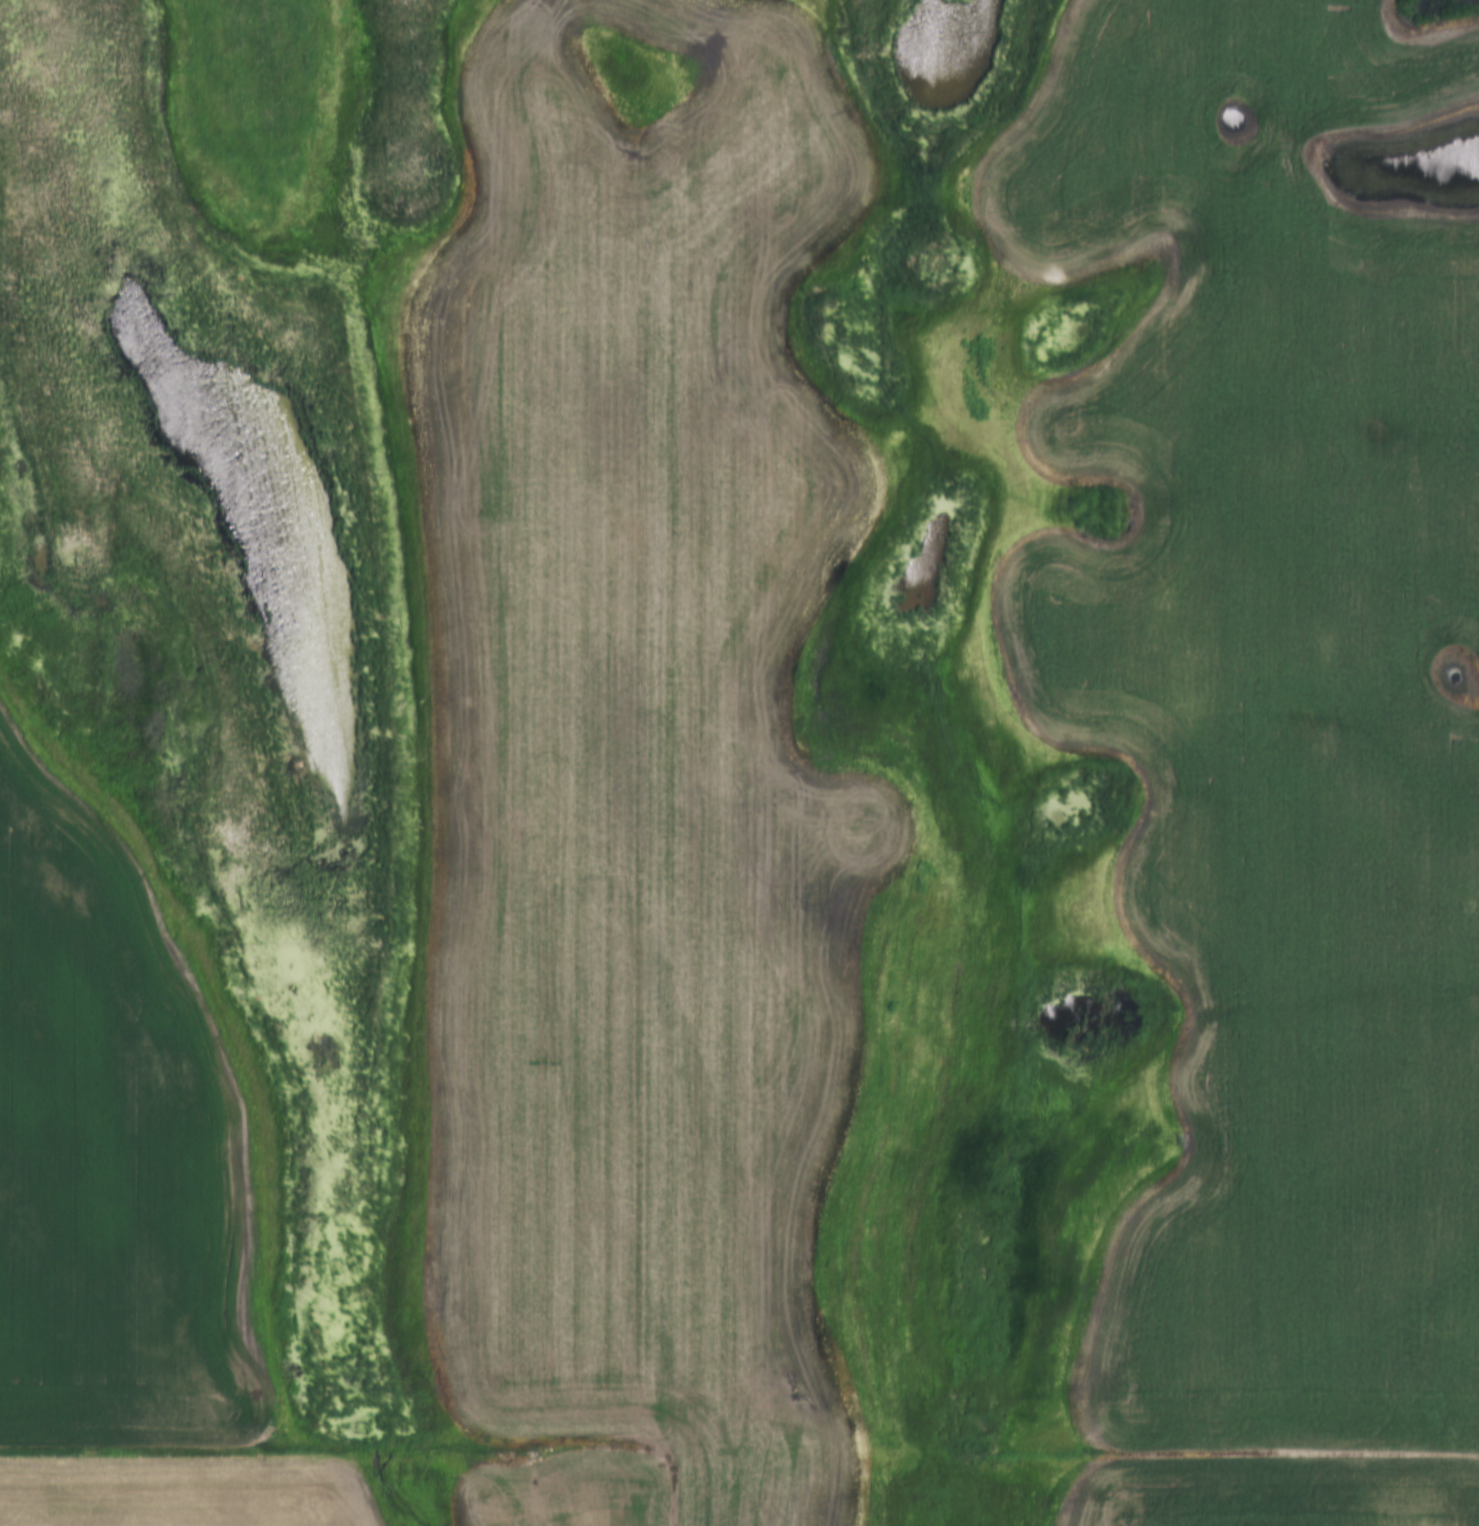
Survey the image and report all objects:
road: (739, 1452)

